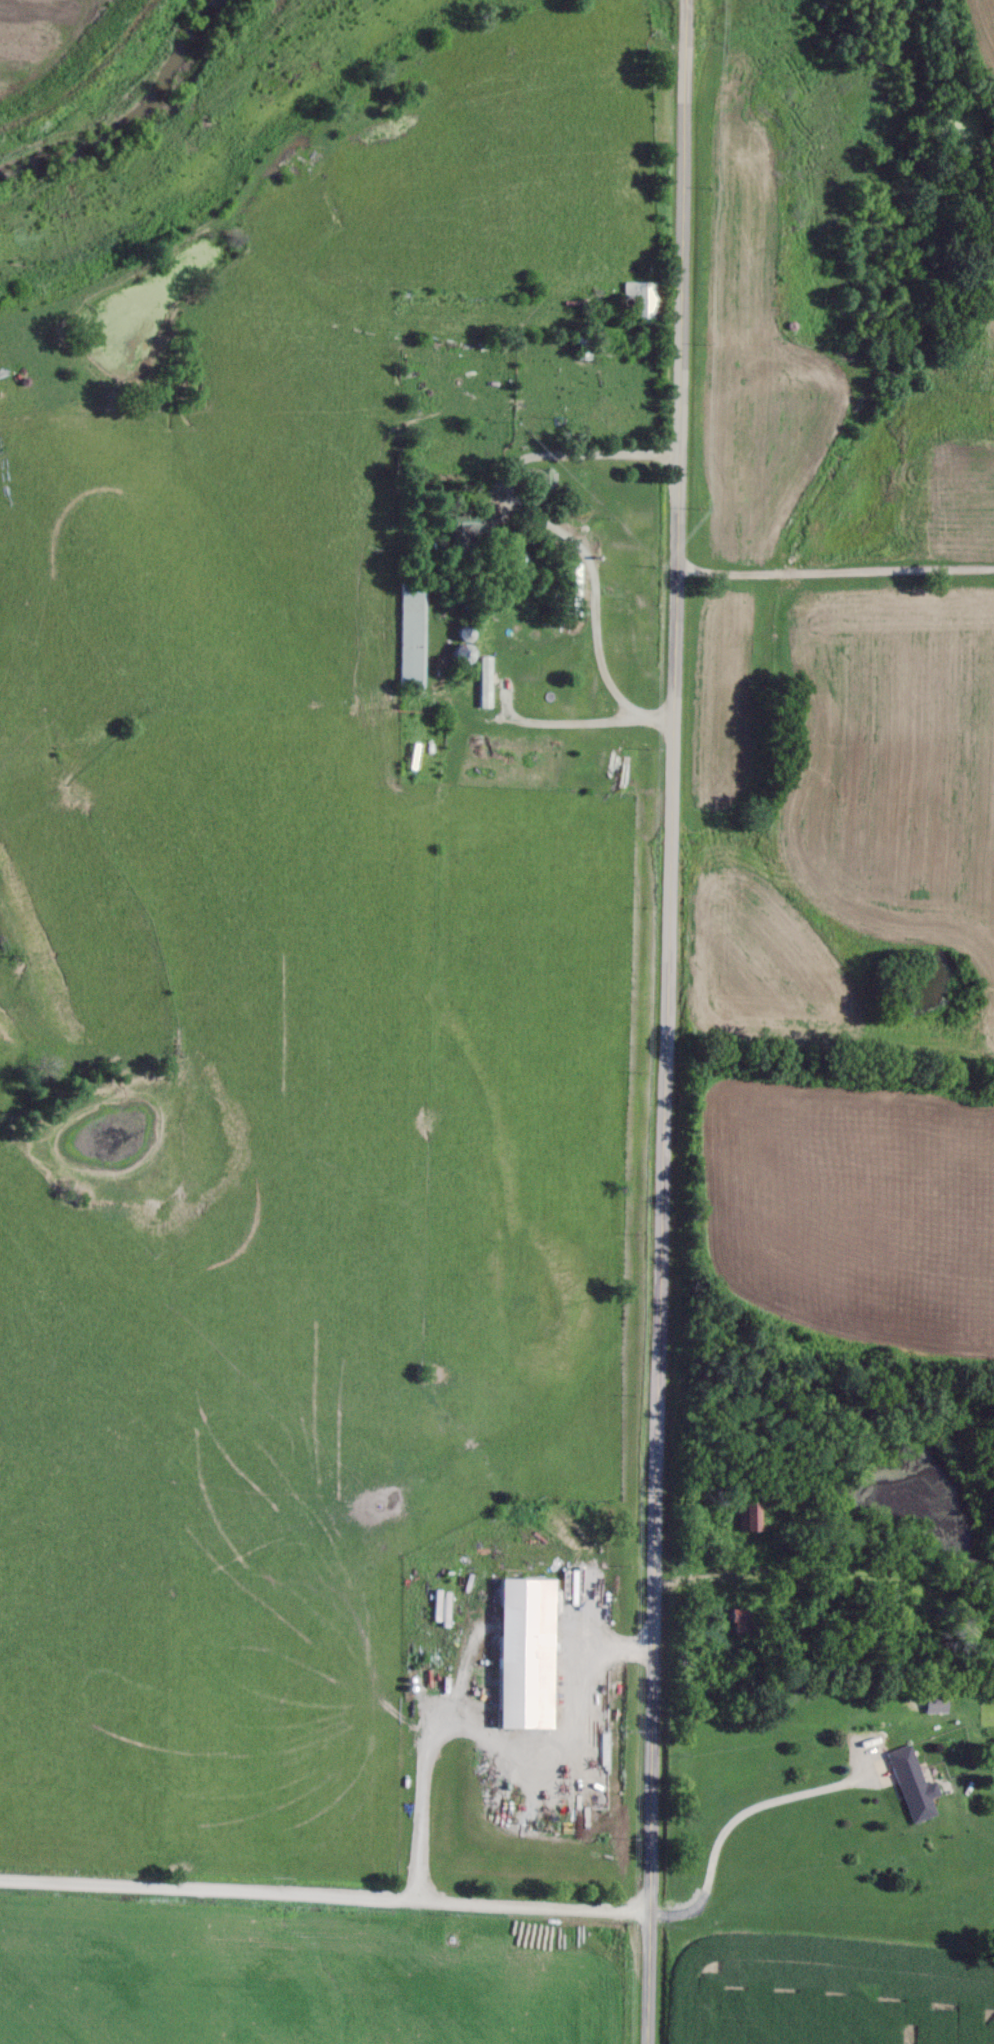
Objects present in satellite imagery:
building: (640, 300)
building: (583, 347)
building: (534, 485)
road: (548, 525)
building: (467, 533)
building: (519, 560)
road: (835, 569)
building: (574, 589)
building: (409, 633)
road: (524, 719)
road: (668, 1022)
building: (733, 1621)
building: (933, 1703)
road: (483, 1734)
building: (911, 1785)
road: (727, 1825)
road: (320, 1904)

